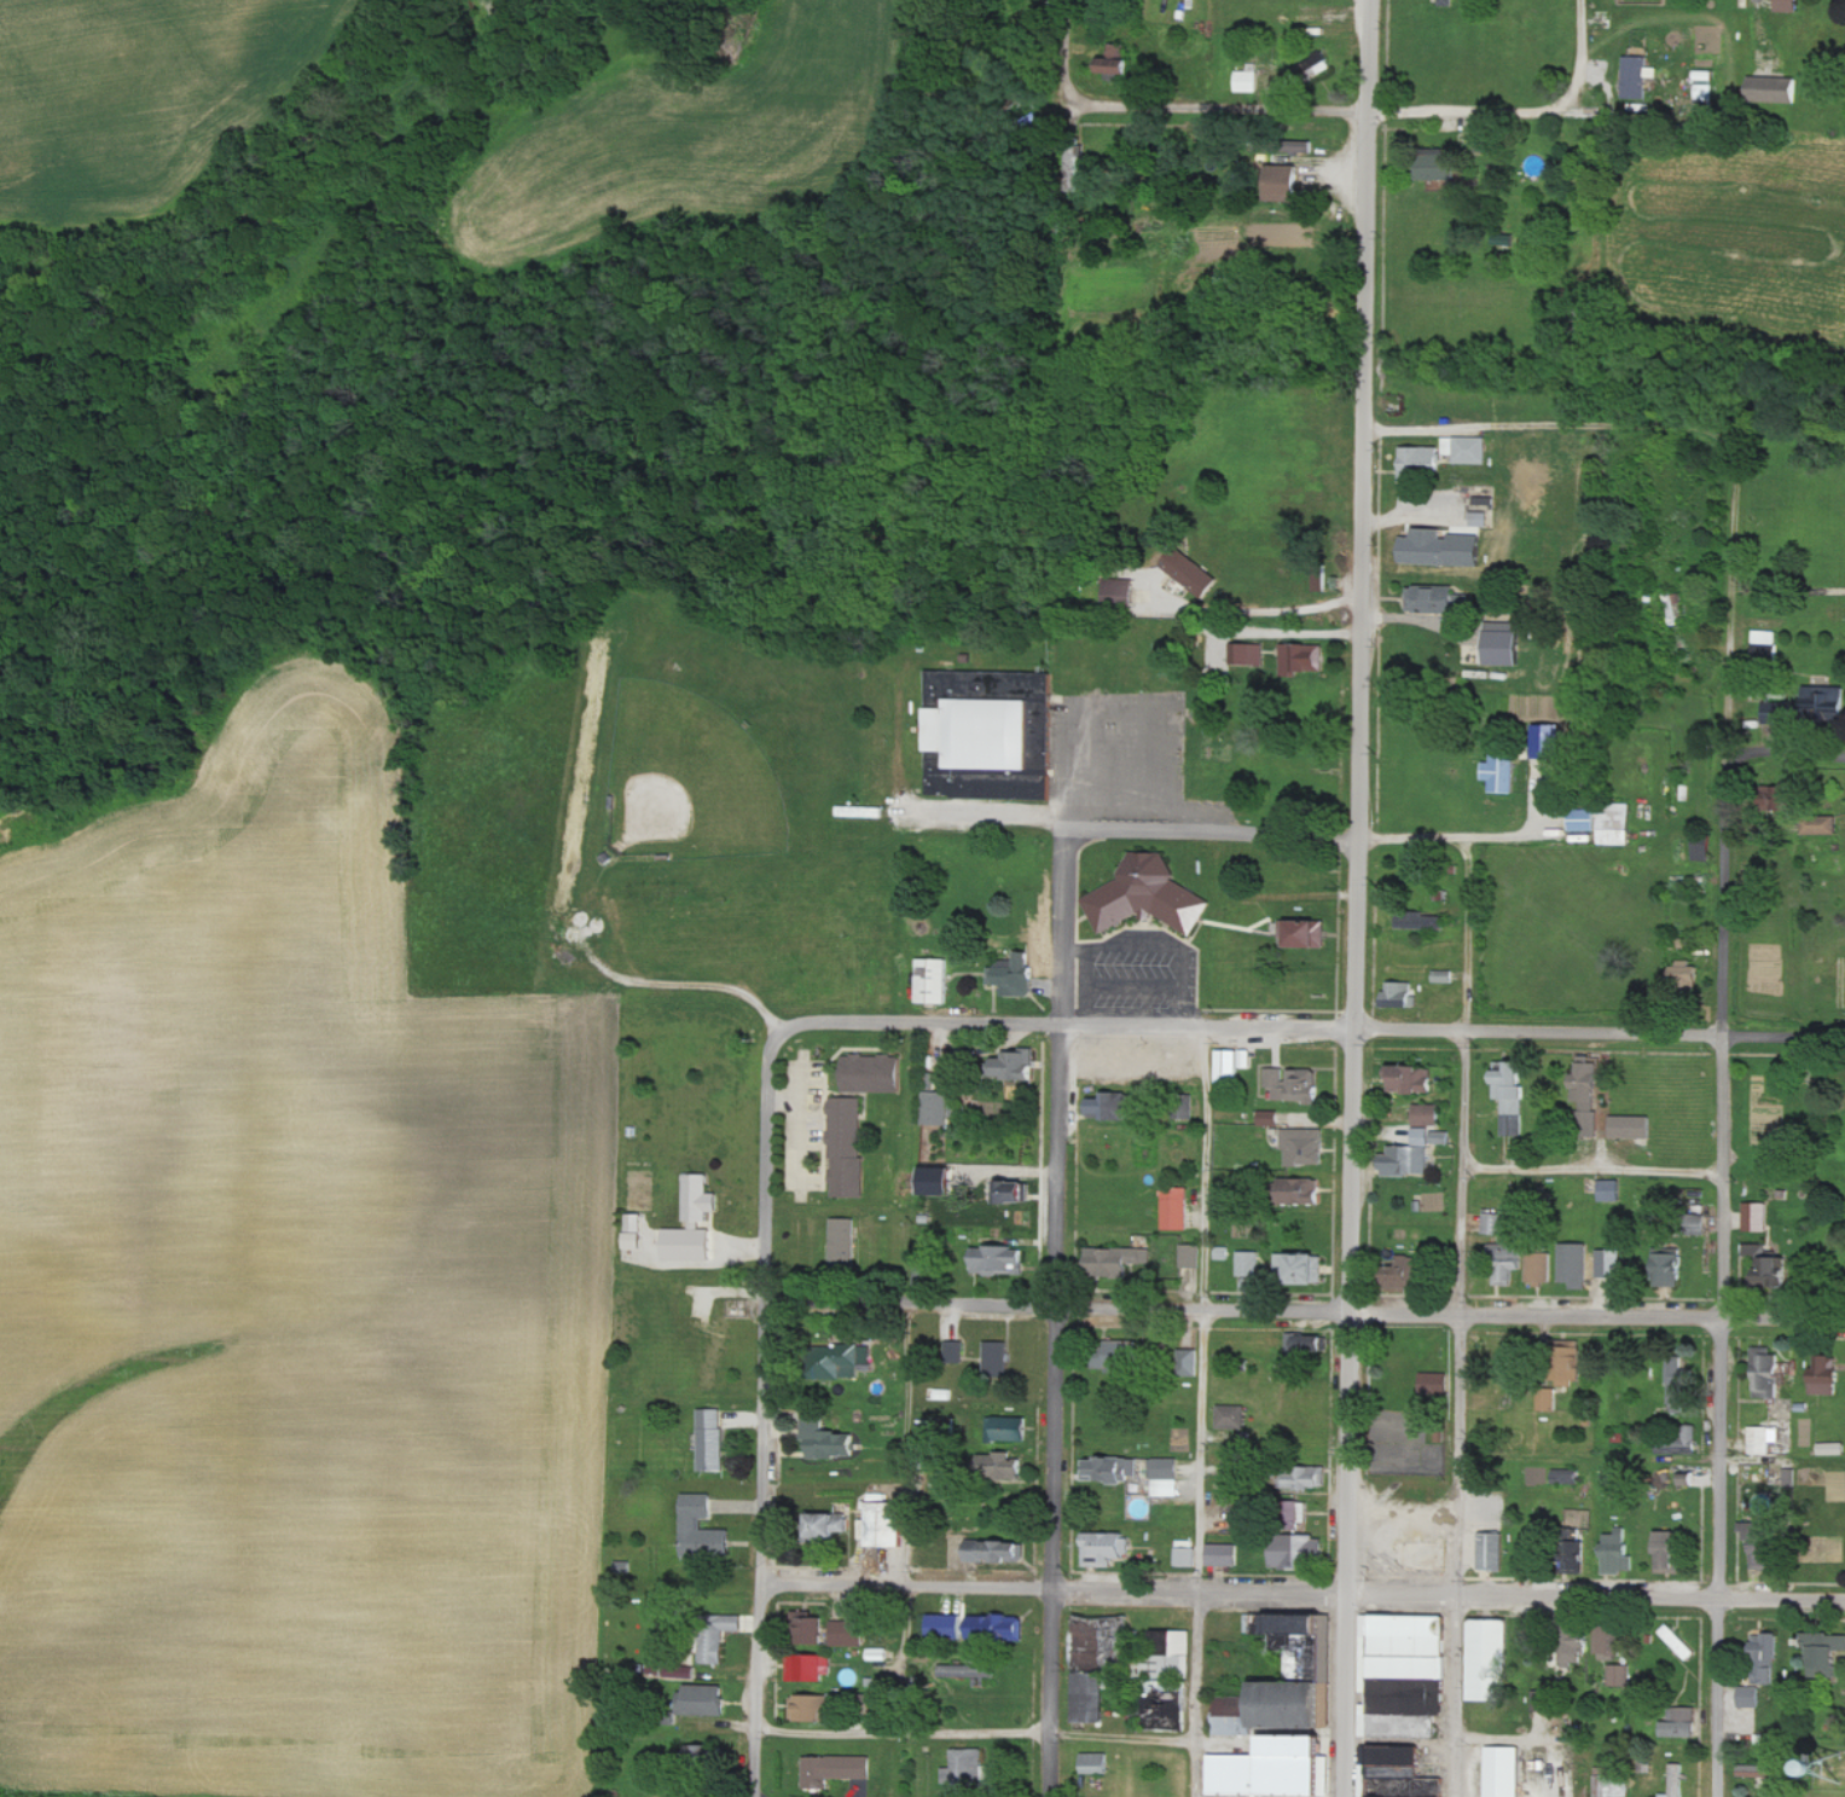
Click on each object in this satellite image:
building: (1788, 5)
road: (1071, 52)
road: (1580, 53)
building: (1118, 63)
building: (1635, 77)
building: (1248, 81)
building: (1704, 88)
building: (1775, 89)
road: (1211, 106)
road: (1460, 111)
building: (1441, 169)
building: (1286, 182)
road: (1533, 425)
building: (1464, 450)
building: (1421, 462)
building: (1480, 518)
building: (1421, 550)
building: (1193, 573)
building: (1319, 578)
building: (1124, 593)
building: (1432, 598)
road: (1248, 610)
building: (1764, 642)
building: (1507, 643)
building: (1247, 654)
building: (1302, 657)
building: (1828, 700)
building: (1774, 715)
building: (990, 735)
road: (1789, 766)
building: (1503, 771)
road: (1124, 801)
road: (1011, 813)
building: (1585, 819)
building: (1822, 824)
building: (1615, 827)
road: (1498, 830)
road: (1251, 835)
building: (1702, 850)
building: (1148, 895)
road: (1341, 898)
building: (1421, 920)
building: (1306, 932)
building: (1689, 970)
building: (1015, 975)
building: (1441, 976)
building: (933, 980)
road: (686, 987)
building: (1400, 995)
road: (1311, 1027)
building: (1017, 1065)
building: (1234, 1065)
building: (872, 1073)
building: (1416, 1078)
building: (1294, 1084)
building: (1588, 1086)
building: (1513, 1094)
building: (1109, 1106)
building: (936, 1107)
road: (1722, 1112)
building: (1428, 1114)
building: (1270, 1118)
building: (1634, 1126)
building: (847, 1147)
building: (1306, 1147)
building: (1410, 1155)
road: (1591, 1170)
building: (939, 1181)
building: (1613, 1189)
building: (1305, 1190)
building: (1021, 1192)
building: (1174, 1208)
building: (1757, 1217)
building: (695, 1222)
building: (1497, 1223)
building: (633, 1230)
building: (845, 1242)
building: (1757, 1248)
building: (1189, 1256)
building: (998, 1259)
building: (1510, 1260)
building: (1120, 1262)
building: (1248, 1263)
building: (1612, 1263)
building: (1577, 1264)
building: (1542, 1265)
building: (1301, 1266)
building: (1675, 1268)
building: (1410, 1270)
building: (1776, 1273)
road: (1461, 1308)
road: (1304, 1311)
road: (1056, 1312)
building: (1309, 1344)
building: (956, 1352)
building: (1120, 1356)
building: (997, 1357)
building: (843, 1361)
building: (1189, 1362)
building: (1572, 1362)
building: (1769, 1374)
building: (1828, 1374)
building: (1435, 1382)
building: (1679, 1387)
building: (1548, 1401)
road: (1201, 1410)
road: (762, 1413)
building: (1231, 1416)
building: (1010, 1428)
building: (828, 1437)
building: (712, 1439)
building: (1764, 1439)
building: (1681, 1442)
building: (1833, 1448)
building: (1006, 1466)
building: (1112, 1468)
building: (1566, 1476)
building: (1164, 1477)
building: (1307, 1478)
building: (1243, 1518)
building: (888, 1524)
building: (834, 1525)
building: (703, 1530)
building: (1760, 1544)
building: (1106, 1548)
building: (998, 1550)
building: (1493, 1550)
building: (1618, 1550)
building: (1299, 1552)
building: (1670, 1552)
building: (1222, 1554)
building: (1415, 1554)
building: (1185, 1557)
road: (1302, 1592)
building: (729, 1623)
building: (948, 1627)
building: (1299, 1627)
building: (811, 1628)
building: (997, 1628)
building: (848, 1634)
building: (1679, 1642)
building: (1174, 1645)
building: (1408, 1645)
building: (1592, 1646)
building: (1765, 1646)
building: (713, 1648)
building: (1826, 1653)
building: (878, 1654)
building: (1489, 1660)
building: (810, 1668)
building: (679, 1671)
building: (968, 1671)
building: (1620, 1675)
building: (1768, 1675)
building: (1091, 1697)
building: (1751, 1697)
building: (707, 1700)
building: (1538, 1700)
building: (1402, 1703)
building: (1295, 1705)
building: (811, 1708)
building: (1232, 1716)
building: (1682, 1723)
road: (977, 1735)
road: (1530, 1739)
building: (696, 1753)
building: (1400, 1756)
building: (1095, 1763)
building: (835, 1769)
building: (1277, 1769)
building: (964, 1770)
building: (1756, 1770)
building: (1505, 1772)
building: (1370, 1780)
building: (1612, 1781)
building: (1676, 1781)

